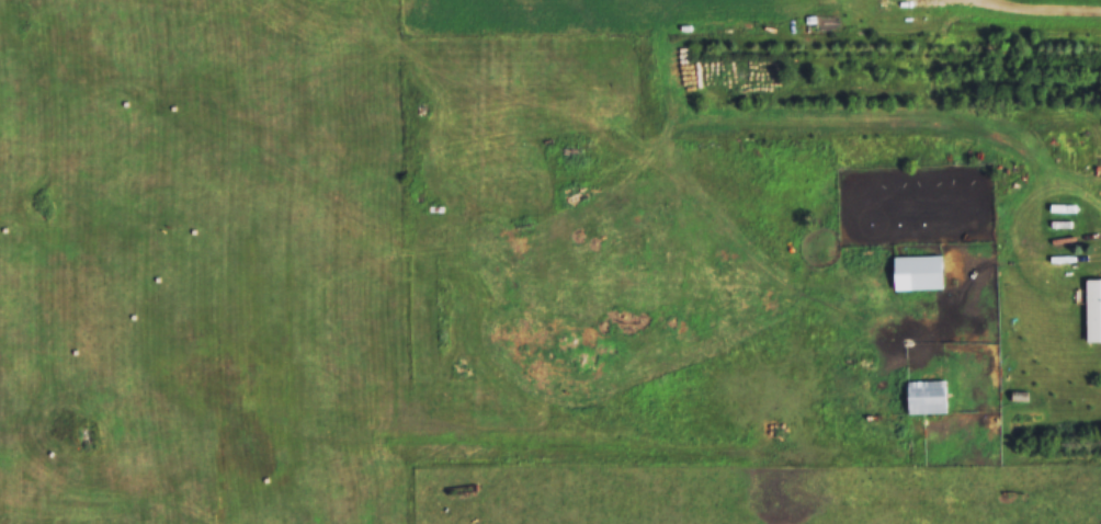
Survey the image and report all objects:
road: (1043, 9)
building: (918, 272)
building: (1094, 309)
building: (928, 396)

